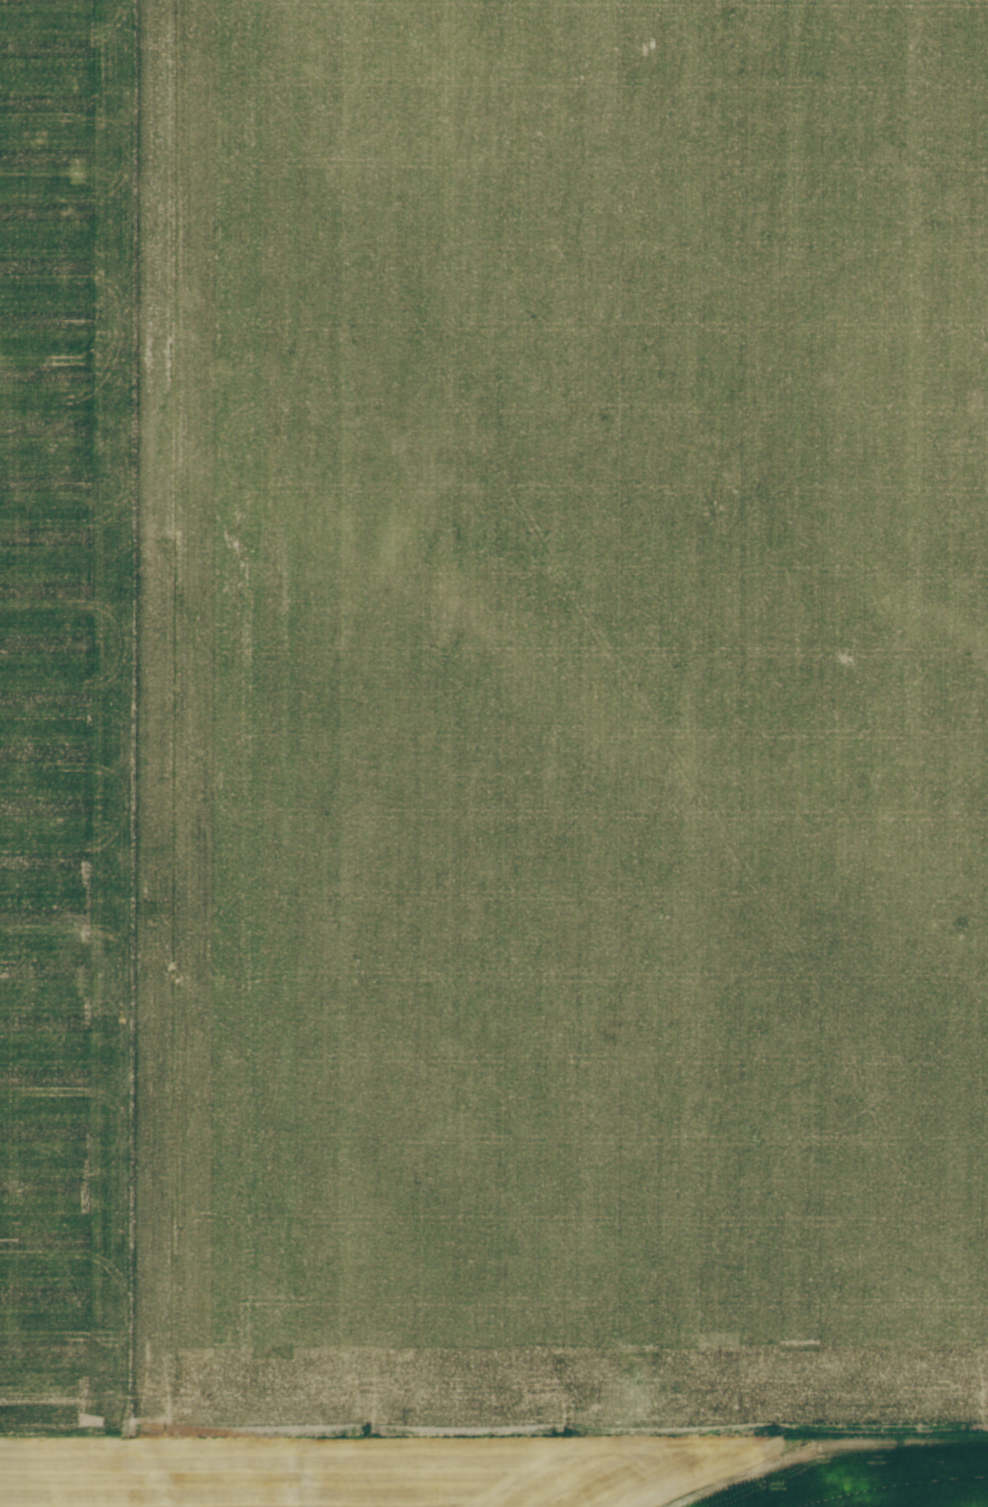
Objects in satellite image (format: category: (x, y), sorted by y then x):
crop: (494, 753)

